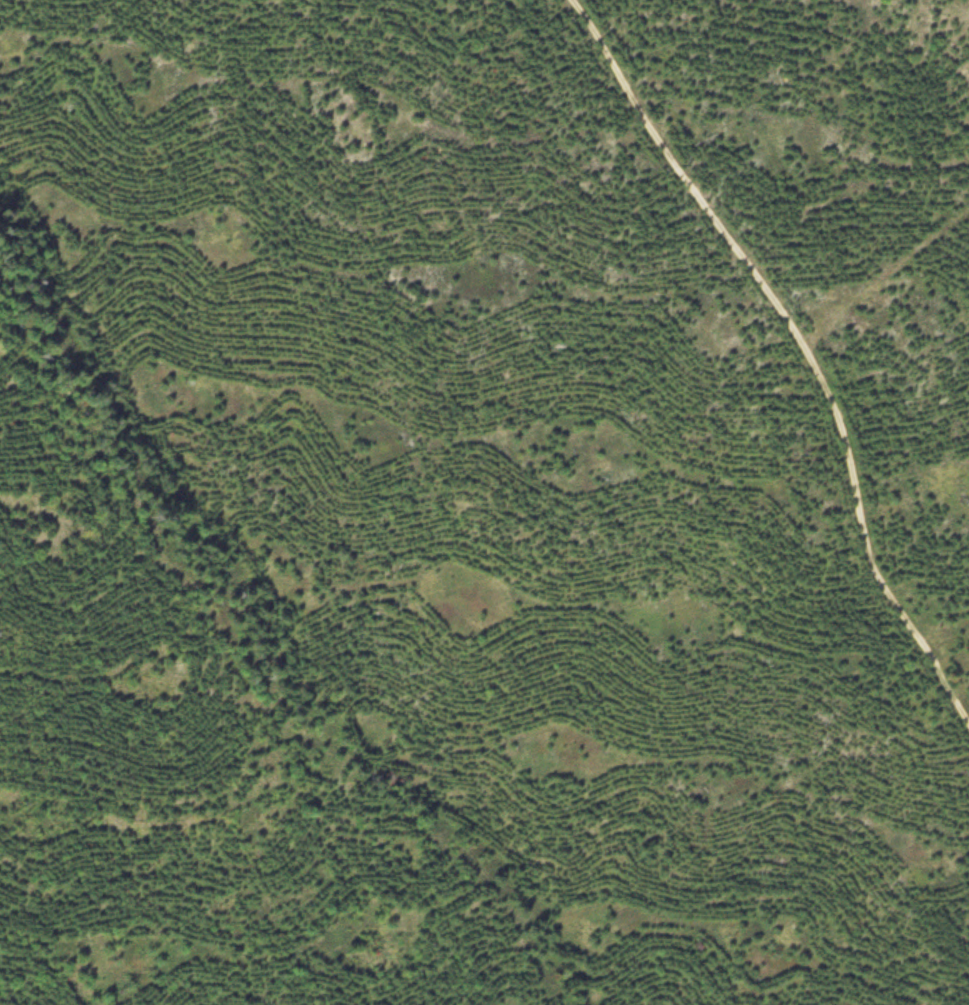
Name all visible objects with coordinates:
road: (143, 55)
road: (804, 341)

